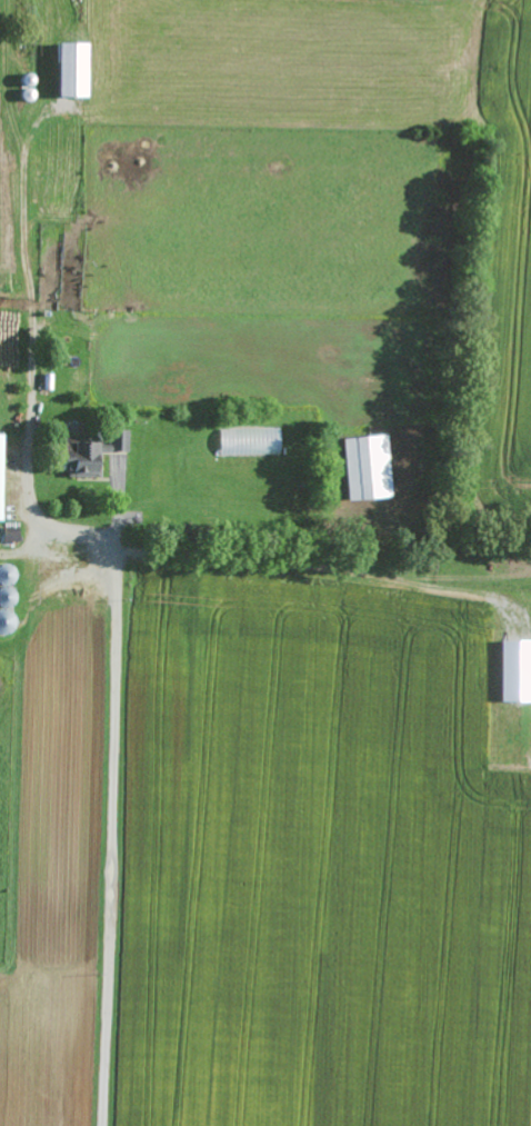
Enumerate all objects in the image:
building: (64, 69)
road: (30, 345)
building: (113, 438)
building: (73, 457)
building: (361, 465)
building: (6, 532)
building: (511, 669)
road: (112, 795)

